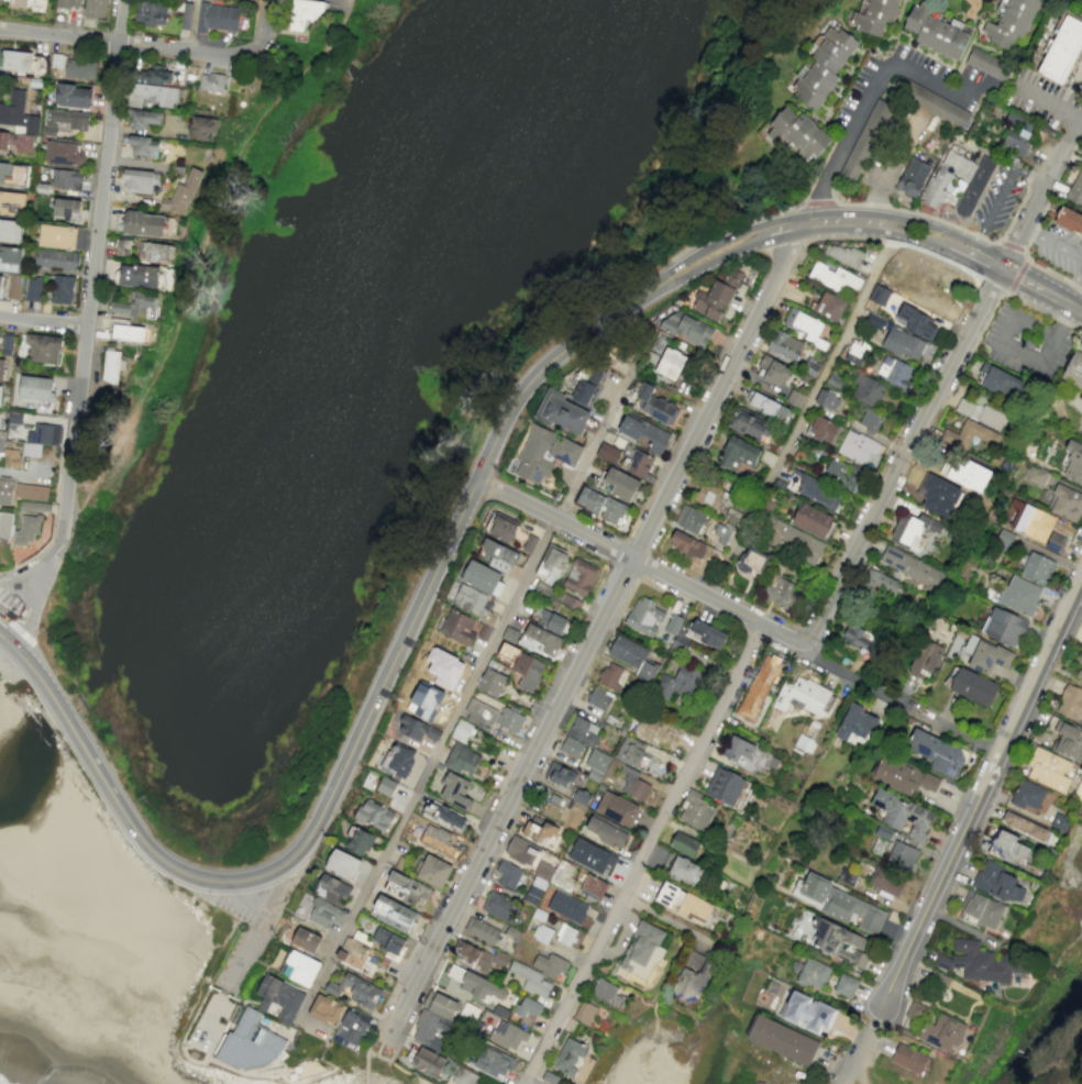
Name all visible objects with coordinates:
building: (29, 3)
building: (68, 4)
building: (93, 9)
building: (303, 12)
building: (151, 13)
building: (875, 15)
building: (217, 18)
building: (1009, 22)
road: (194, 25)
road: (263, 27)
building: (935, 32)
road: (124, 42)
building: (1062, 49)
building: (15, 60)
building: (56, 60)
building: (987, 64)
building: (822, 67)
building: (79, 68)
building: (154, 75)
building: (210, 82)
road: (932, 86)
building: (74, 96)
building: (153, 96)
road: (1051, 108)
building: (143, 119)
building: (64, 120)
building: (18, 122)
building: (201, 128)
building: (798, 134)
building: (864, 140)
road: (848, 141)
building: (1016, 141)
building: (143, 146)
building: (63, 153)
road: (104, 162)
parking lot: (883, 166)
building: (13, 174)
building: (914, 178)
building: (66, 179)
building: (950, 179)
building: (139, 180)
road: (881, 187)
building: (975, 187)
building: (181, 193)
road: (1000, 195)
parking lot: (998, 197)
road: (819, 201)
building: (12, 202)
building: (66, 208)
road: (833, 221)
building: (1068, 221)
building: (145, 223)
road: (731, 224)
road: (956, 225)
road: (931, 228)
building: (10, 231)
building: (56, 236)
road: (927, 243)
road: (1011, 245)
building: (122, 247)
parking lot: (1059, 248)
building: (154, 252)
road: (1071, 253)
building: (841, 254)
building: (10, 258)
building: (56, 259)
road: (1027, 259)
road: (685, 262)
building: (140, 276)
road: (692, 276)
road: (1017, 276)
building: (835, 278)
building: (0, 280)
road: (1027, 281)
building: (13, 286)
building: (33, 289)
building: (62, 289)
building: (879, 295)
building: (716, 297)
building: (134, 305)
building: (829, 306)
road: (1045, 312)
road: (986, 319)
road: (43, 321)
building: (914, 321)
building: (802, 324)
building: (687, 329)
building: (128, 332)
parking lot: (1027, 343)
building: (7, 344)
building: (903, 344)
building: (784, 345)
building: (43, 347)
building: (854, 352)
road: (1036, 360)
park: (393, 361)
building: (670, 363)
building: (112, 367)
building: (1, 368)
building: (774, 370)
building: (894, 372)
park: (121, 374)
building: (998, 379)
building: (587, 385)
road: (940, 385)
building: (0, 388)
building: (36, 388)
building: (866, 390)
building: (1073, 390)
building: (826, 399)
building: (655, 406)
building: (769, 407)
building: (980, 412)
building: (563, 413)
road: (803, 417)
building: (870, 419)
building: (747, 424)
building: (822, 429)
building: (642, 433)
park: (101, 434)
building: (969, 434)
building: (40, 439)
road: (71, 444)
building: (857, 447)
building: (607, 453)
building: (738, 453)
building: (543, 454)
building: (11, 457)
building: (1072, 462)
building: (639, 463)
building: (965, 474)
building: (1035, 474)
building: (841, 475)
building: (618, 484)
building: (5, 491)
building: (31, 491)
building: (938, 495)
building: (590, 499)
building: (716, 500)
building: (1066, 504)
building: (35, 506)
building: (612, 510)
building: (691, 519)
building: (813, 520)
building: (1027, 520)
building: (5, 524)
building: (503, 529)
building: (26, 530)
building: (913, 530)
building: (720, 534)
building: (1003, 539)
building: (796, 542)
building: (1055, 542)
building: (687, 544)
building: (497, 554)
building: (751, 562)
building: (551, 564)
road: (639, 564)
building: (1035, 567)
building: (910, 568)
road: (23, 572)
building: (579, 576)
building: (482, 577)
building: (880, 584)
building: (543, 588)
building: (781, 593)
building: (1019, 595)
parking lot: (8, 600)
building: (472, 600)
road: (31, 601)
building: (571, 602)
building: (644, 616)
building: (552, 621)
building: (457, 627)
building: (1003, 627)
building: (707, 633)
building: (676, 634)
road: (594, 638)
building: (859, 638)
building: (543, 640)
building: (985, 654)
building: (633, 656)
building: (924, 660)
building: (522, 666)
building: (444, 667)
building: (611, 675)
road: (859, 678)
building: (492, 682)
building: (682, 682)
building: (972, 686)
building: (760, 687)
road: (467, 690)
building: (805, 696)
building: (598, 698)
building: (424, 701)
building: (1070, 703)
building: (490, 715)
building: (855, 724)
building: (412, 727)
building: (461, 730)
building: (584, 731)
road: (958, 732)
building: (1066, 739)
building: (803, 743)
building: (571, 746)
building: (633, 752)
building: (740, 752)
building: (936, 753)
building: (397, 760)
building: (462, 760)
building: (597, 764)
building: (1049, 770)
road: (340, 772)
building: (559, 774)
building: (903, 775)
building: (633, 785)
building: (385, 786)
building: (725, 786)
building: (454, 789)
building: (1027, 795)
building: (575, 808)
building: (617, 808)
building: (695, 811)
building: (374, 815)
building: (904, 815)
building: (443, 816)
building: (1060, 822)
building: (1025, 826)
building: (540, 830)
road: (962, 831)
building: (605, 832)
building: (358, 840)
building: (437, 840)
building: (684, 843)
building: (1008, 847)
building: (521, 851)
road: (642, 855)
building: (590, 856)
building: (903, 856)
road: (1069, 860)
building: (342, 864)
building: (682, 870)
building: (432, 871)
building: (508, 874)
building: (562, 875)
building: (847, 876)
building: (541, 877)
building: (887, 881)
building: (997, 882)
building: (593, 885)
building: (406, 888)
building: (332, 889)
building: (682, 902)
building: (840, 904)
building: (499, 906)
building: (566, 907)
building: (982, 909)
building: (318, 911)
building: (393, 914)
road: (256, 927)
road: (1077, 929)
building: (481, 930)
building: (541, 933)
building: (565, 934)
building: (306, 939)
building: (387, 940)
building: (839, 942)
building: (350, 952)
building: (642, 953)
building: (693, 960)
building: (981, 962)
building: (550, 965)
building: (299, 967)
building: (813, 973)
building: (531, 980)
building: (473, 983)
building: (846, 985)
building: (353, 989)
building: (606, 993)
building: (278, 997)
building: (439, 1004)
building: (527, 1007)
building: (324, 1008)
building: (915, 1010)
building: (584, 1013)
building: (808, 1013)
road: (209, 1019)
building: (351, 1029)
building: (430, 1030)
building: (941, 1032)
building: (507, 1035)
building: (782, 1040)
building: (252, 1043)
road: (366, 1053)
road: (376, 1055)
building: (568, 1057)
building: (909, 1059)
building: (489, 1061)
building: (428, 1062)
road: (859, 1073)
building: (463, 1076)
building: (549, 1077)
building: (453, 1083)

